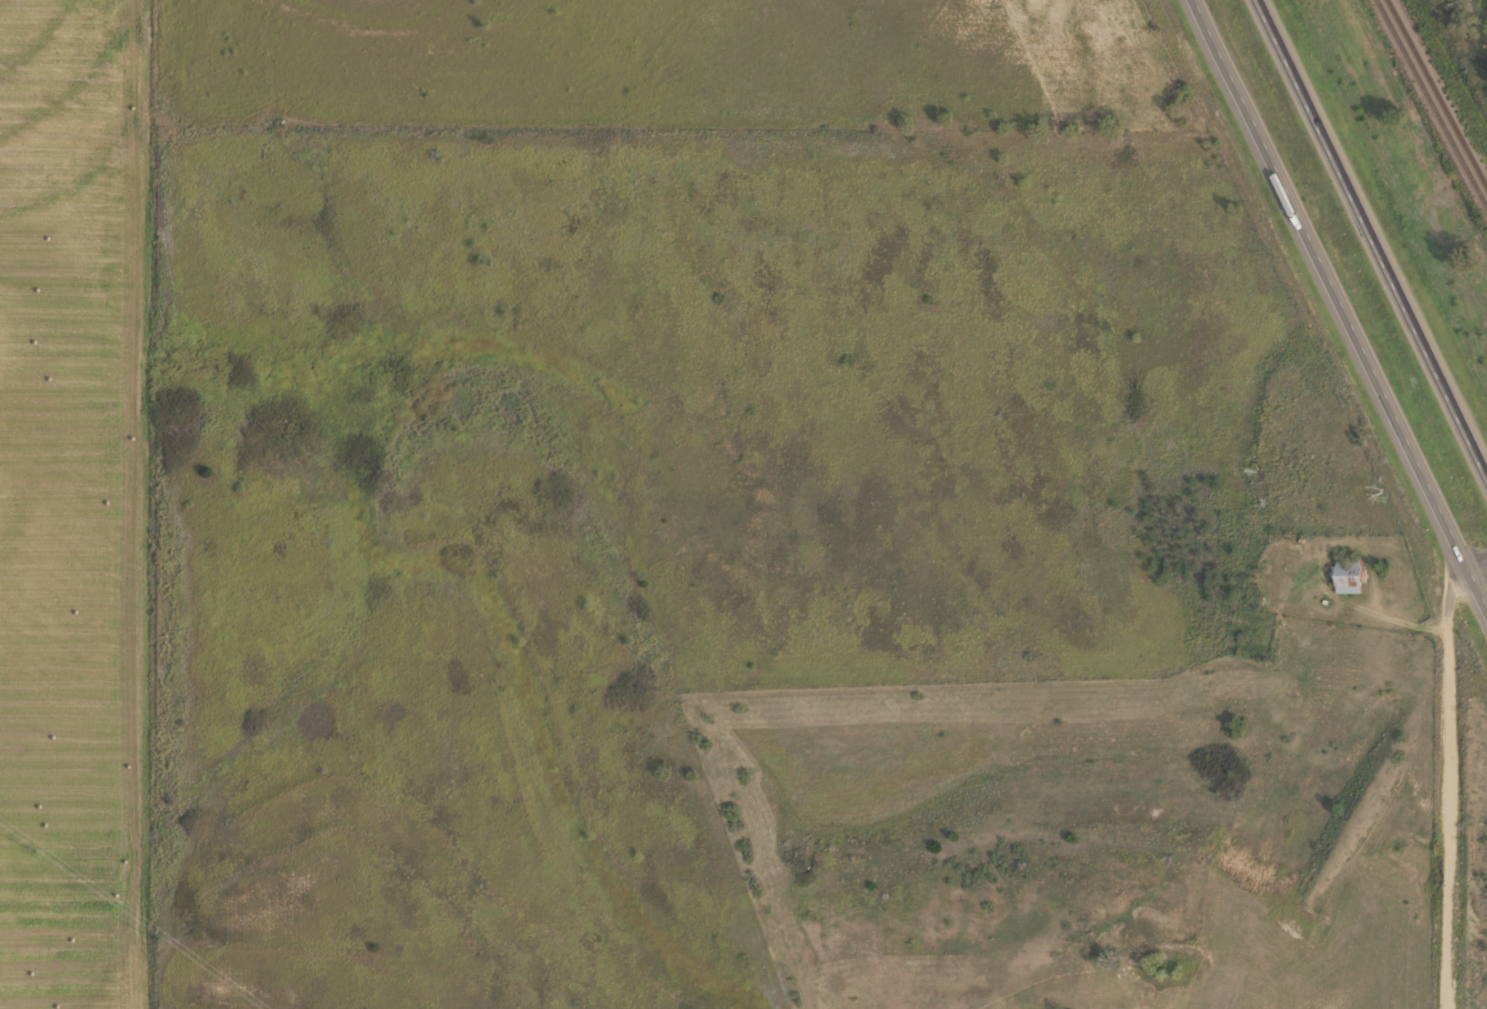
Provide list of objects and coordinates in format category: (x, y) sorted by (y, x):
railway: (1439, 91)
railway: (1430, 105)
road: (1377, 229)
road: (1341, 301)
building: (1348, 574)
road: (1453, 773)

